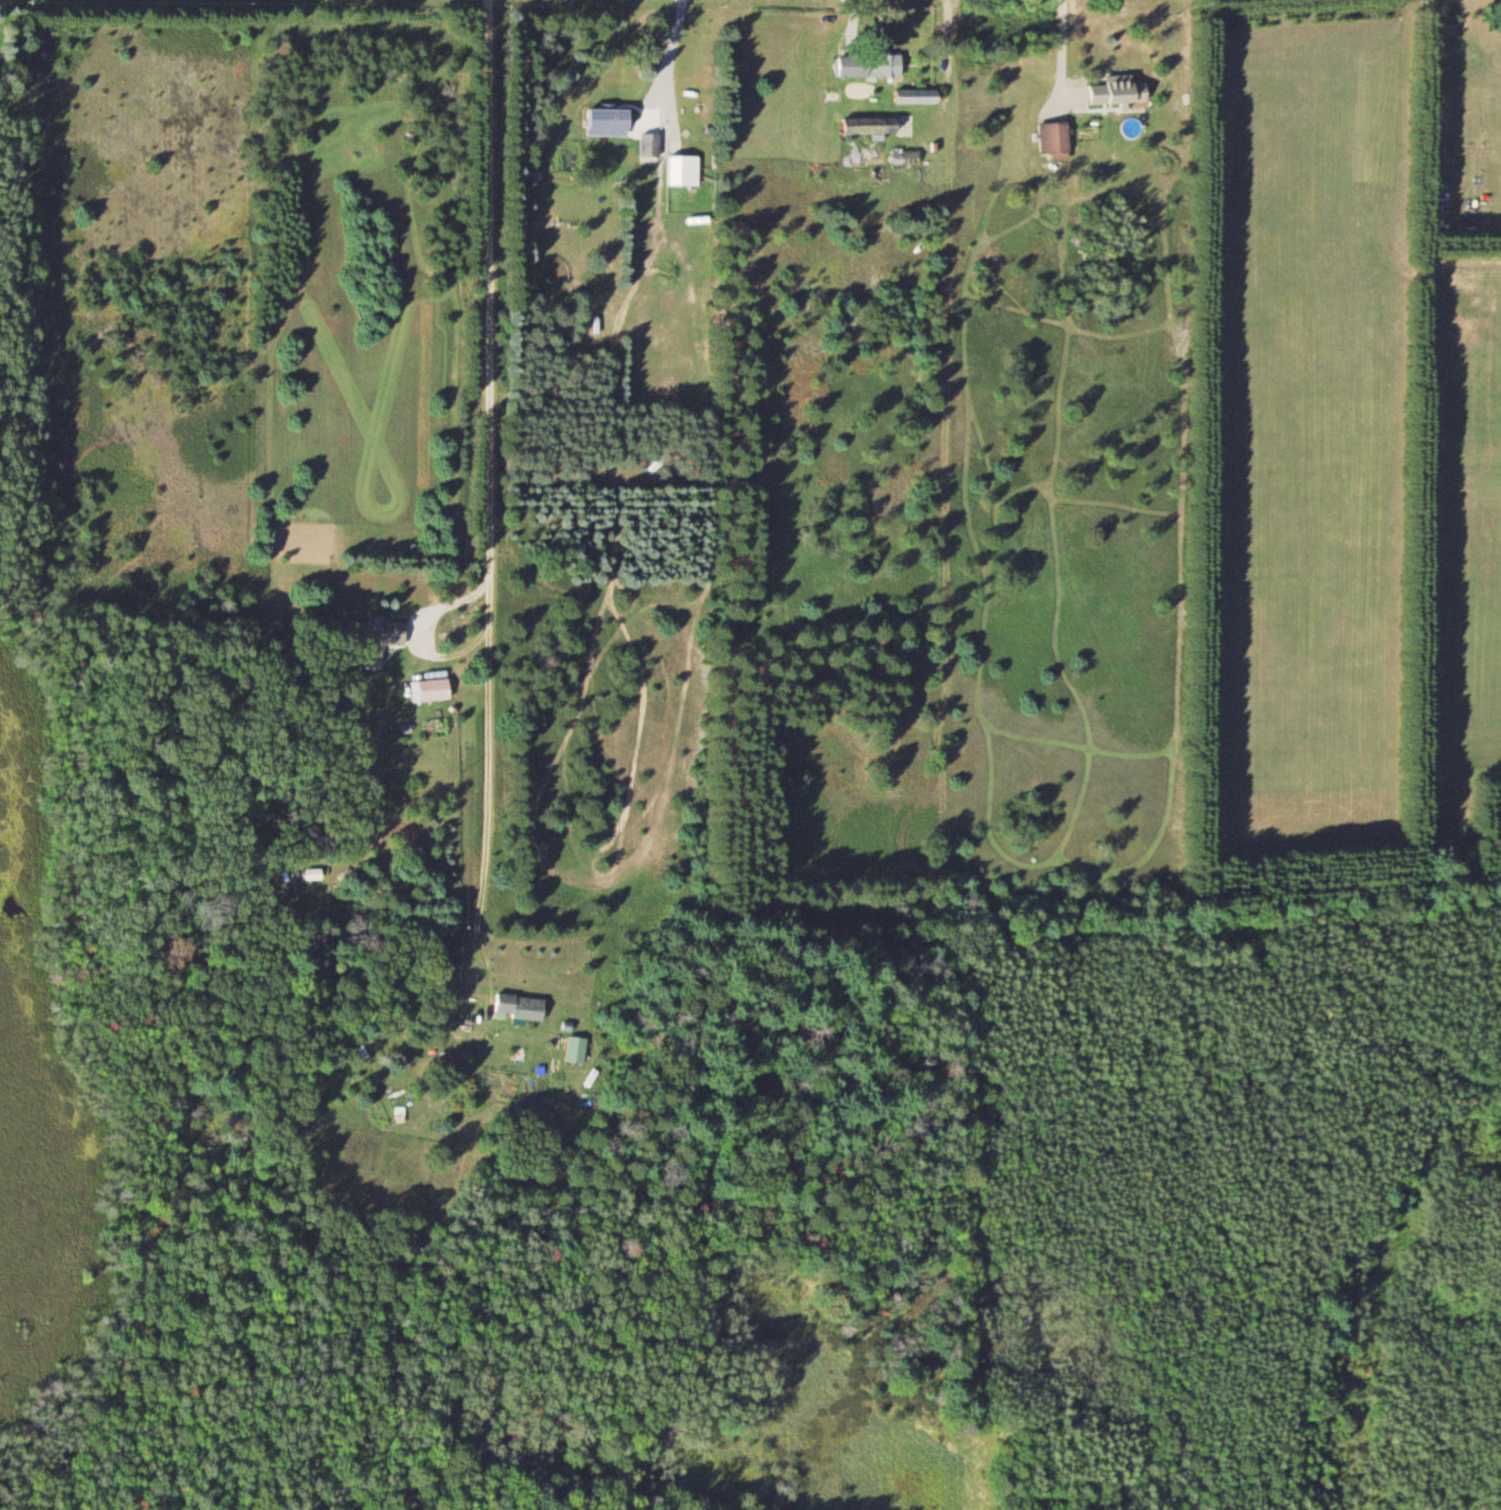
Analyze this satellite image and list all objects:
building: (871, 64)
building: (1122, 90)
building: (919, 96)
building: (617, 121)
building: (878, 125)
building: (1057, 138)
building: (648, 144)
building: (907, 156)
building: (686, 170)
building: (652, 393)
building: (381, 632)
building: (433, 689)
building: (316, 873)
building: (521, 1007)
building: (577, 1049)

